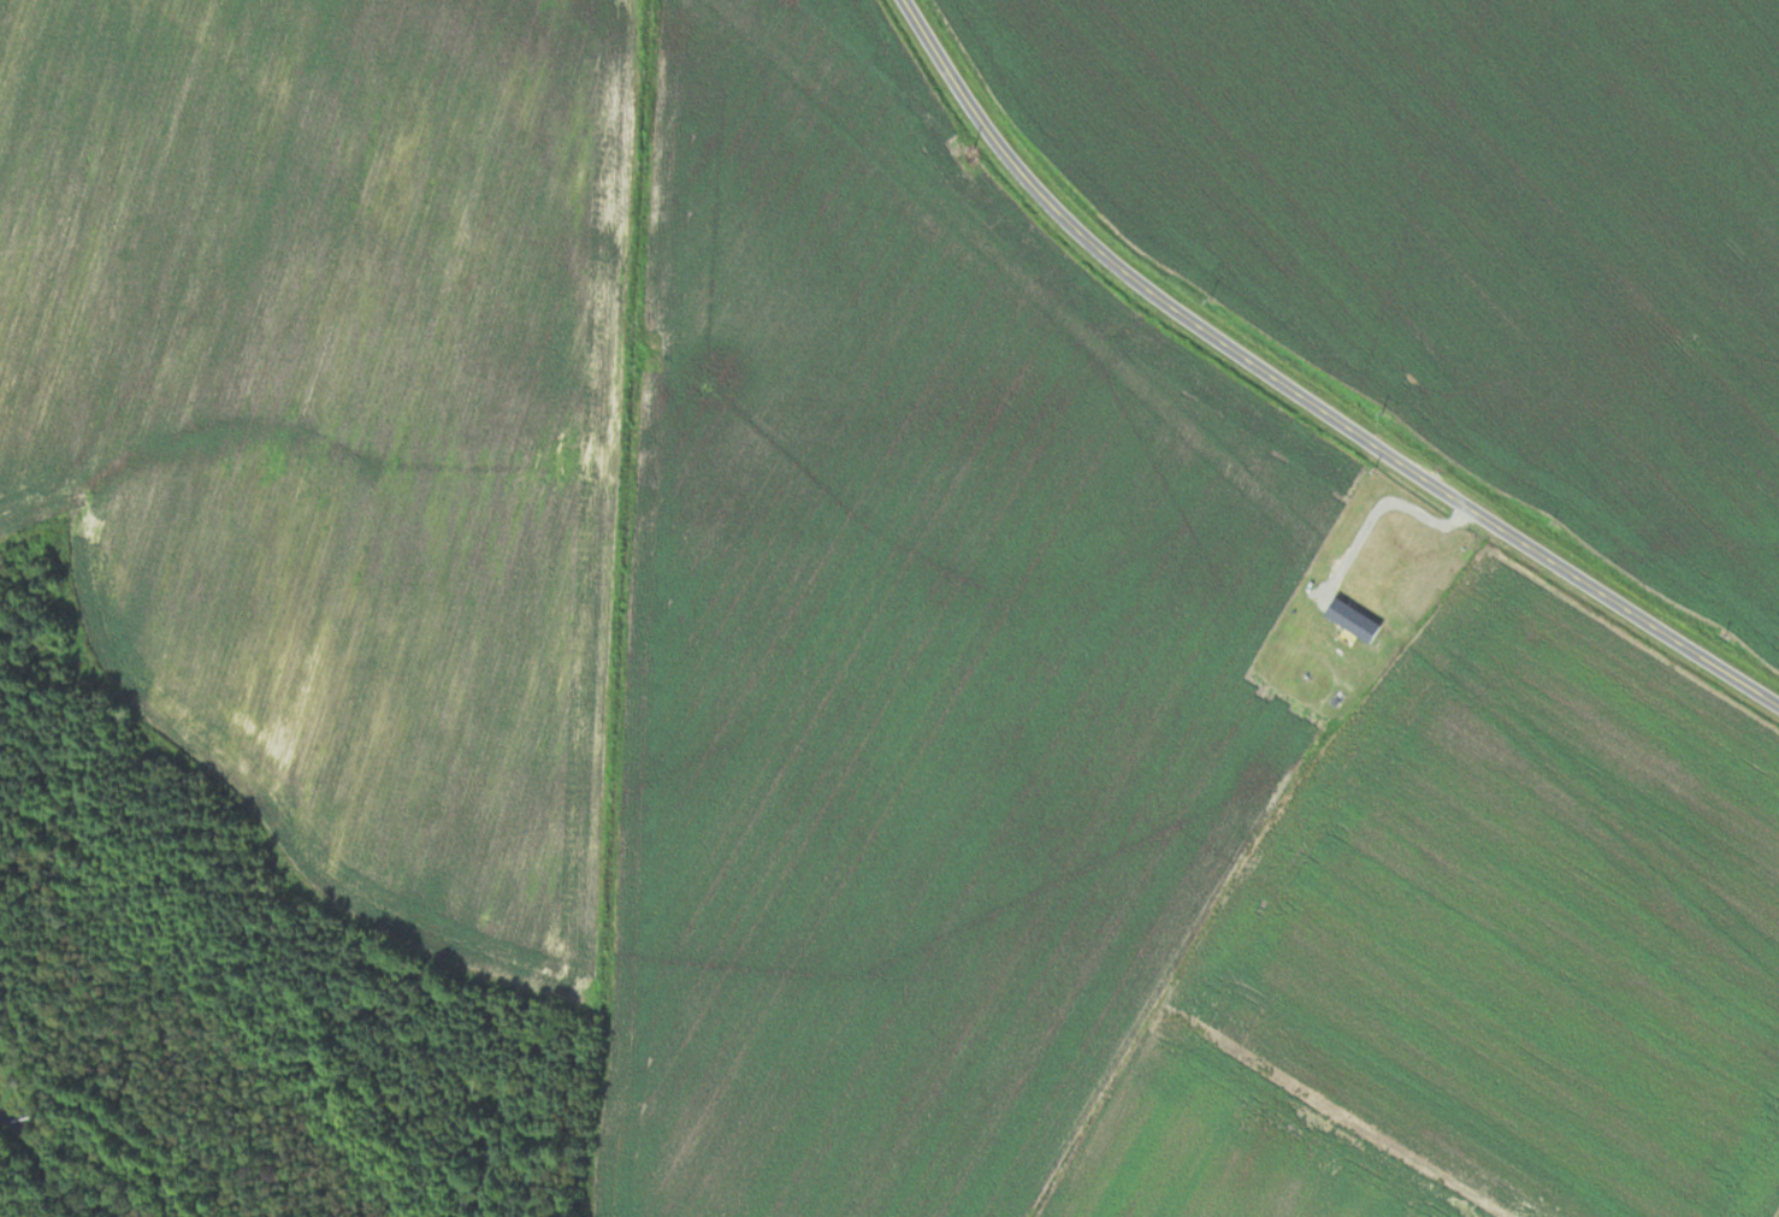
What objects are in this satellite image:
road: (1301, 395)

